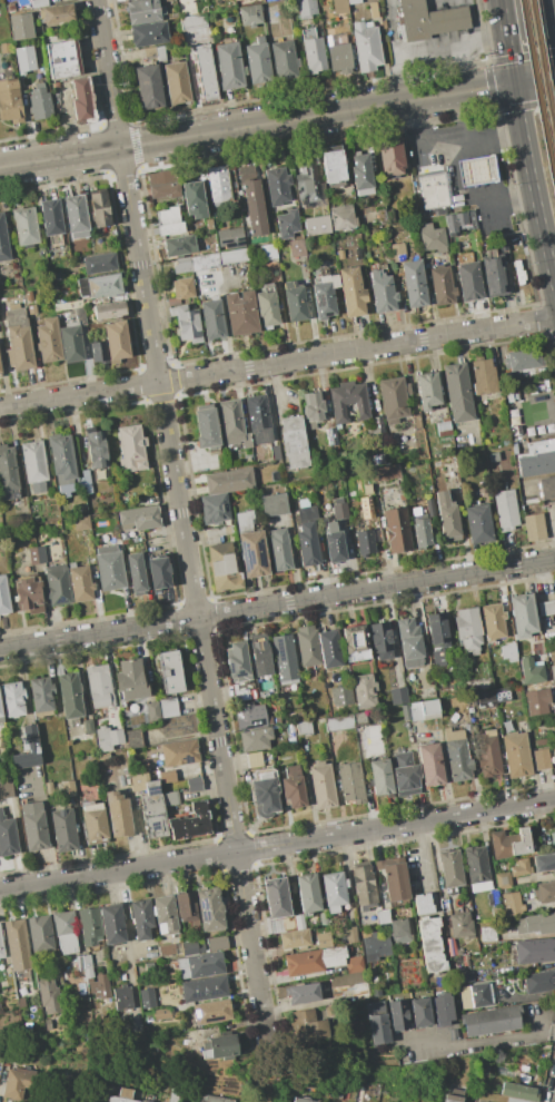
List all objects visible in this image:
building: (237, 0)
building: (353, 1)
building: (339, 7)
building: (187, 8)
building: (304, 8)
building: (143, 11)
road: (552, 12)
building: (56, 13)
building: (249, 14)
building: (429, 20)
road: (470, 20)
building: (192, 21)
road: (453, 21)
road: (433, 23)
building: (21, 27)
building: (148, 33)
building: (259, 39)
road: (505, 41)
building: (366, 47)
road: (424, 48)
building: (314, 55)
building: (339, 57)
building: (23, 59)
building: (62, 59)
building: (284, 60)
building: (257, 63)
building: (228, 65)
road: (460, 67)
railway: (542, 71)
building: (205, 72)
road: (533, 79)
building: (176, 82)
traffic signals: (512, 83)
building: (148, 87)
railway: (536, 96)
building: (81, 100)
building: (10, 101)
building: (39, 101)
road: (460, 120)
road: (494, 125)
road: (256, 126)
building: (389, 154)
road: (494, 157)
building: (333, 165)
building: (476, 170)
building: (360, 175)
building: (307, 181)
building: (163, 184)
building: (218, 184)
building: (277, 186)
road: (532, 187)
building: (433, 190)
road: (516, 190)
building: (194, 199)
building: (251, 199)
building: (99, 209)
building: (51, 216)
building: (76, 216)
building: (385, 216)
building: (343, 217)
building: (169, 222)
building: (458, 222)
building: (209, 224)
building: (287, 224)
building: (24, 225)
building: (316, 225)
building: (230, 237)
building: (432, 238)
building: (346, 239)
building: (3, 240)
building: (178, 245)
building: (296, 248)
building: (267, 252)
building: (397, 252)
building: (232, 256)
building: (204, 262)
building: (99, 263)
building: (181, 265)
building: (494, 275)
building: (52, 276)
building: (469, 282)
building: (414, 284)
building: (103, 285)
building: (440, 285)
building: (182, 287)
building: (351, 292)
building: (381, 292)
building: (325, 295)
building: (31, 297)
building: (294, 301)
building: (266, 305)
building: (108, 311)
building: (239, 313)
building: (79, 315)
building: (211, 318)
building: (187, 322)
building: (18, 340)
building: (48, 340)
building: (116, 341)
building: (70, 342)
building: (98, 351)
building: (523, 360)
road: (277, 362)
building: (0, 371)
building: (483, 377)
road: (275, 384)
building: (427, 391)
building: (457, 392)
building: (394, 397)
building: (347, 400)
road: (536, 406)
building: (313, 410)
parking lot: (531, 410)
building: (257, 419)
building: (231, 420)
building: (416, 422)
road: (165, 424)
building: (376, 425)
building: (205, 426)
building: (444, 426)
building: (490, 435)
building: (331, 436)
building: (294, 442)
building: (131, 447)
building: (96, 449)
building: (275, 453)
building: (379, 454)
building: (493, 456)
building: (537, 459)
road: (192, 460)
building: (62, 463)
building: (33, 464)
building: (383, 472)
building: (8, 473)
building: (275, 476)
building: (86, 481)
building: (229, 481)
building: (547, 488)
building: (367, 489)
building: (303, 502)
building: (274, 504)
building: (215, 508)
building: (339, 509)
building: (505, 510)
building: (306, 512)
building: (140, 518)
building: (444, 519)
building: (532, 521)
building: (478, 524)
building: (396, 530)
building: (217, 533)
building: (422, 533)
building: (334, 541)
building: (365, 541)
building: (307, 544)
building: (251, 545)
building: (280, 549)
building: (36, 554)
building: (109, 568)
building: (222, 568)
building: (136, 573)
building: (159, 573)
building: (79, 582)
building: (57, 586)
building: (3, 596)
building: (28, 596)
road: (277, 603)
building: (546, 608)
building: (522, 614)
building: (492, 621)
building: (438, 629)
building: (467, 629)
building: (380, 641)
building: (409, 641)
building: (355, 642)
building: (307, 646)
building: (329, 648)
building: (508, 651)
building: (260, 655)
building: (284, 658)
building: (237, 660)
building: (531, 671)
building: (170, 672)
building: (131, 679)
building: (553, 685)
building: (99, 686)
building: (468, 687)
building: (364, 690)
building: (240, 691)
building: (427, 691)
building: (41, 693)
building: (69, 695)
building: (502, 695)
building: (340, 696)
building: (398, 696)
building: (12, 699)
building: (486, 699)
building: (537, 701)
building: (168, 707)
building: (152, 710)
building: (424, 710)
building: (0, 711)
building: (405, 712)
building: (250, 716)
building: (301, 717)
building: (0, 720)
building: (338, 722)
building: (88, 726)
building: (303, 727)
building: (108, 738)
building: (132, 739)
building: (255, 739)
building: (539, 741)
building: (554, 748)
building: (28, 749)
building: (179, 752)
building: (487, 752)
building: (457, 755)
building: (516, 755)
building: (541, 758)
building: (254, 759)
building: (430, 764)
building: (405, 774)
building: (167, 776)
building: (380, 777)
building: (350, 781)
building: (194, 784)
building: (291, 785)
building: (321, 785)
building: (68, 789)
building: (264, 794)
building: (170, 798)
building: (152, 810)
building: (118, 814)
road: (46, 817)
road: (133, 818)
building: (93, 823)
building: (191, 823)
road: (395, 825)
building: (33, 826)
building: (62, 830)
building: (554, 835)
building: (7, 836)
building: (523, 843)
building: (499, 844)
road: (424, 853)
building: (544, 863)
building: (450, 867)
building: (519, 867)
building: (476, 868)
road: (118, 870)
building: (503, 880)
building: (395, 882)
building: (364, 883)
building: (333, 891)
building: (545, 891)
building: (307, 892)
building: (493, 897)
building: (276, 898)
building: (423, 903)
building: (511, 904)
building: (444, 906)
building: (187, 907)
building: (209, 911)
building: (496, 912)
building: (165, 914)
building: (381, 915)
building: (141, 918)
building: (299, 922)
building: (536, 923)
building: (111, 924)
building: (460, 925)
building: (89, 926)
building: (276, 926)
building: (65, 931)
building: (400, 931)
building: (487, 933)
building: (40, 934)
building: (350, 934)
building: (294, 938)
building: (217, 943)
road: (250, 943)
building: (432, 944)
building: (18, 946)
building: (375, 946)
building: (1, 947)
building: (187, 947)
building: (166, 950)
building: (534, 950)
building: (192, 951)
building: (313, 961)
building: (85, 964)
building: (354, 964)
building: (200, 965)
building: (464, 977)
building: (539, 981)
building: (334, 982)
building: (100, 986)
building: (204, 988)
building: (359, 991)
building: (304, 993)
building: (47, 995)
building: (474, 995)
building: (122, 997)
building: (147, 1003)
building: (443, 1008)
building: (211, 1012)
building: (419, 1012)
building: (161, 1014)
building: (397, 1015)
building: (490, 1021)
building: (308, 1025)
building: (377, 1029)
road: (477, 1042)
building: (222, 1046)
building: (16, 1083)
building: (335, 1091)
building: (518, 1091)
building: (174, 1094)
building: (121, 1095)
building: (454, 1095)
building: (208, 1098)
building: (300, 1100)
building: (140, 1101)
building: (143, 1101)

